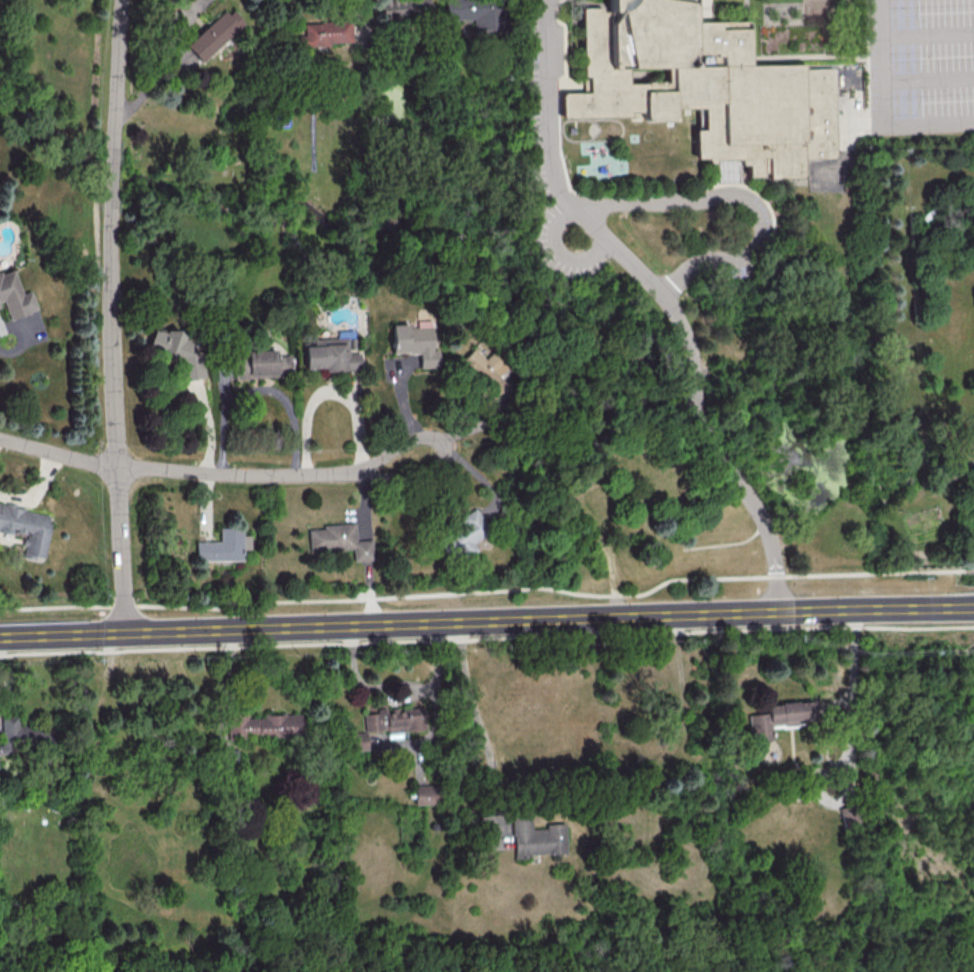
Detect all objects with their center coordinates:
building: (403, 10)
building: (475, 13)
road: (362, 14)
building: (323, 33)
building: (211, 34)
road: (926, 35)
parking lot: (921, 66)
road: (927, 81)
building: (702, 88)
road: (880, 109)
parking lot: (533, 126)
river: (28, 132)
parking lot: (844, 139)
road: (551, 169)
river: (111, 173)
road: (742, 200)
road: (768, 207)
road: (558, 253)
river: (399, 270)
building: (13, 296)
road: (110, 316)
road: (28, 332)
building: (414, 343)
building: (177, 352)
building: (330, 355)
building: (260, 364)
building: (481, 364)
river: (691, 369)
road: (259, 389)
river: (853, 390)
road: (331, 393)
road: (716, 456)
road: (970, 467)
road: (209, 473)
road: (952, 480)
road: (36, 492)
road: (929, 498)
building: (26, 528)
building: (465, 535)
building: (339, 540)
building: (223, 546)
road: (969, 569)
road: (484, 591)
road: (486, 620)
road: (486, 638)
road: (852, 698)
building: (778, 718)
building: (396, 721)
building: (263, 726)
building: (11, 732)
building: (358, 741)
building: (424, 794)
building: (850, 816)
building: (536, 837)

